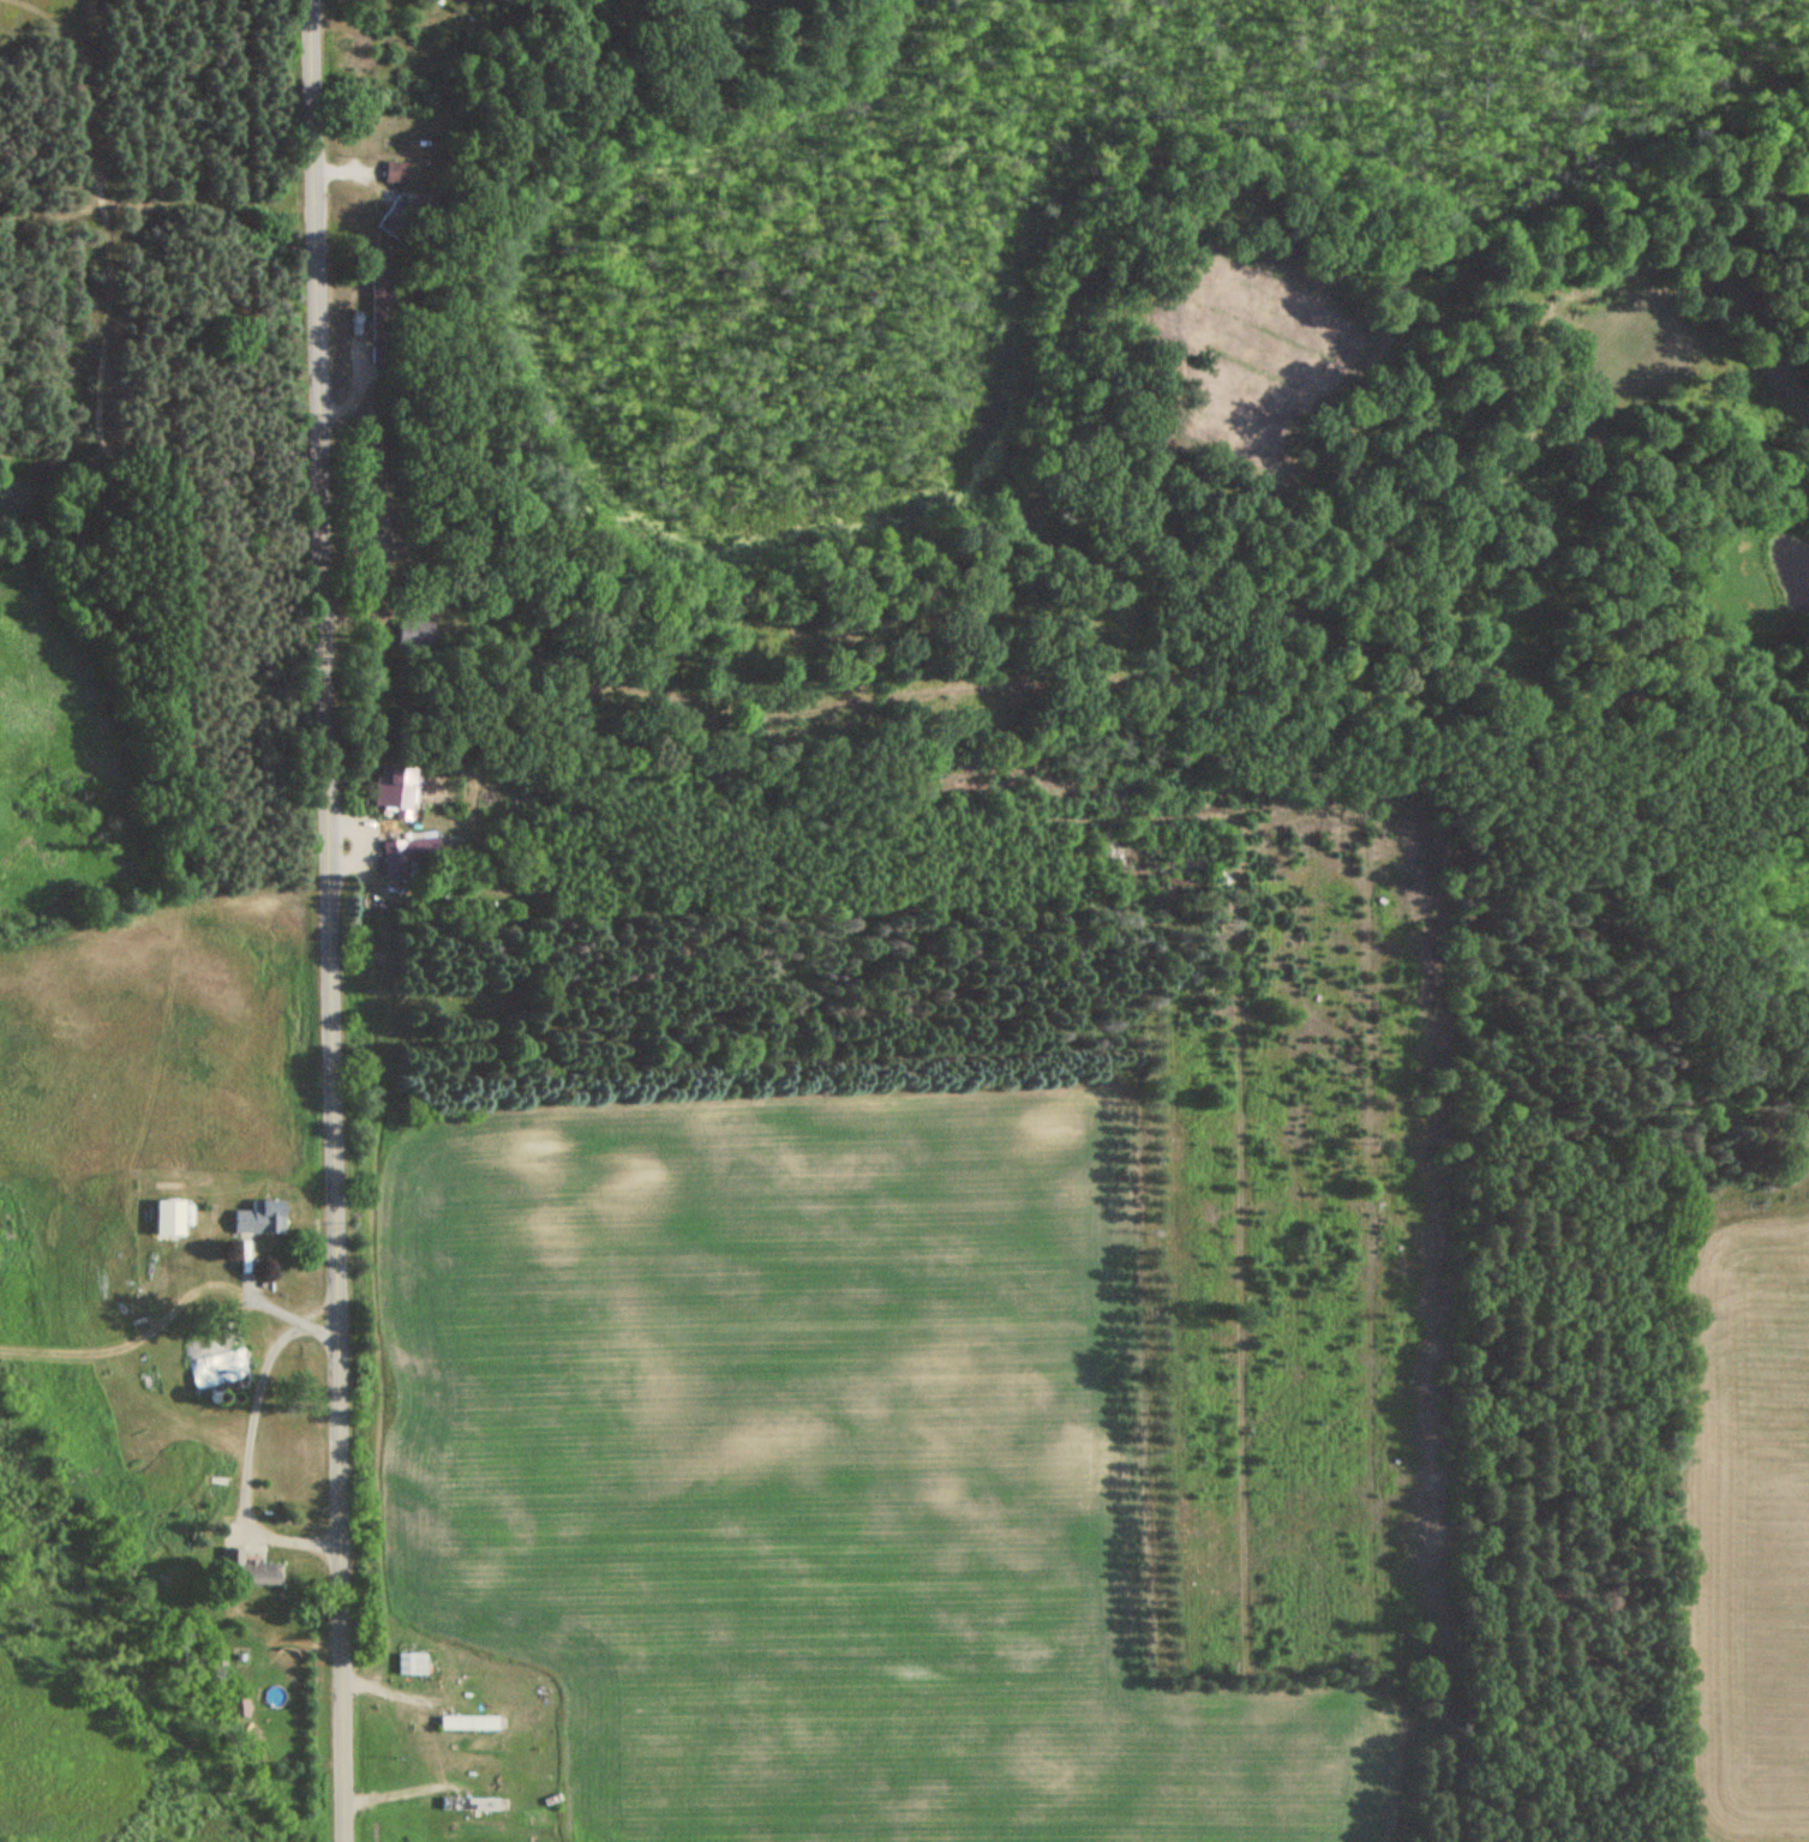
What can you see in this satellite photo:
building: (394, 174)
building: (396, 217)
building: (377, 323)
building: (415, 635)
building: (395, 791)
building: (407, 856)
road: (333, 920)
building: (257, 1218)
building: (172, 1219)
building: (215, 1370)
road: (244, 1447)
building: (260, 1574)
building: (412, 1664)
building: (467, 1723)
building: (468, 1805)

